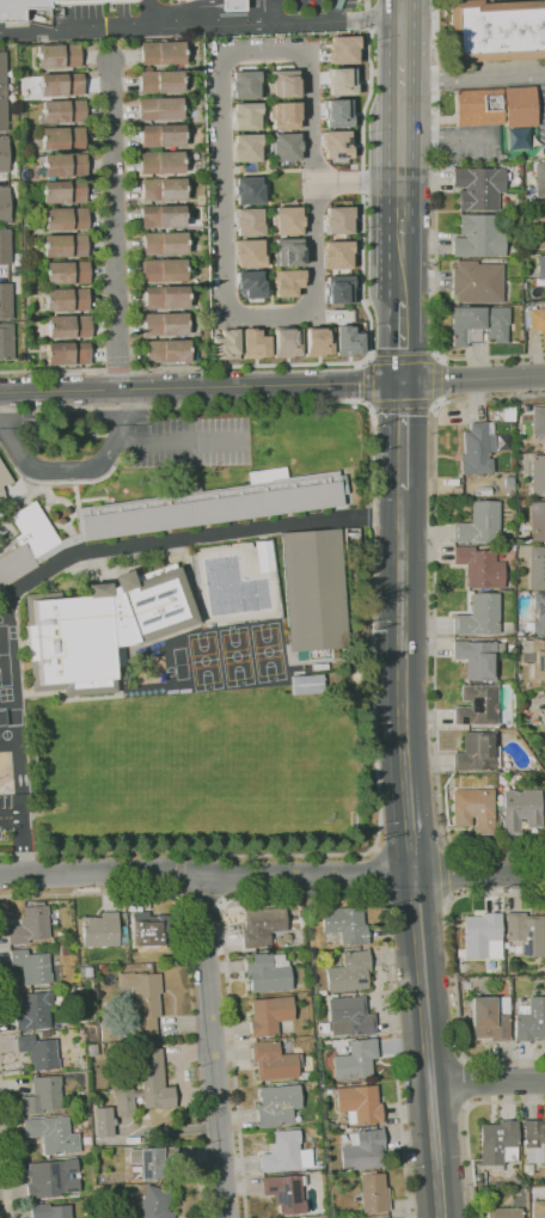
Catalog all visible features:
building: (231, 5)
road: (208, 6)
building: (68, 10)
road: (336, 10)
road: (272, 11)
road: (148, 14)
road: (201, 25)
building: (498, 35)
building: (342, 49)
building: (160, 53)
building: (56, 55)
road: (473, 76)
building: (159, 81)
building: (341, 81)
building: (60, 84)
building: (244, 84)
building: (283, 84)
road: (435, 85)
building: (1, 92)
building: (483, 103)
building: (158, 108)
building: (61, 111)
building: (337, 112)
building: (282, 115)
building: (244, 116)
building: (160, 135)
road: (220, 135)
building: (61, 137)
building: (336, 143)
road: (402, 143)
building: (284, 146)
building: (245, 147)
building: (2, 154)
building: (160, 161)
building: (63, 164)
building: (539, 180)
building: (479, 188)
building: (161, 189)
building: (246, 190)
building: (62, 191)
building: (4, 206)
building: (161, 215)
building: (63, 218)
building: (286, 220)
building: (337, 220)
building: (247, 221)
road: (117, 227)
building: (539, 227)
building: (479, 235)
building: (163, 243)
building: (63, 245)
building: (4, 246)
building: (287, 251)
building: (249, 253)
building: (336, 255)
building: (540, 267)
building: (161, 269)
building: (66, 271)
road: (0, 273)
building: (287, 282)
building: (477, 282)
building: (250, 283)
building: (337, 289)
building: (164, 296)
building: (65, 299)
building: (5, 300)
road: (435, 318)
building: (534, 320)
building: (163, 324)
building: (479, 324)
building: (67, 325)
road: (403, 336)
building: (5, 341)
building: (317, 341)
building: (347, 341)
building: (284, 342)
building: (253, 343)
building: (223, 344)
building: (166, 350)
building: (67, 353)
road: (367, 359)
road: (365, 360)
road: (473, 379)
traffic signals: (403, 385)
road: (201, 391)
road: (238, 403)
building: (539, 424)
building: (491, 429)
road: (403, 436)
parking lot: (188, 439)
road: (179, 441)
building: (477, 448)
road: (72, 467)
building: (538, 475)
building: (4, 481)
building: (509, 482)
building: (483, 490)
building: (171, 514)
building: (538, 521)
building: (479, 522)
road: (186, 537)
building: (263, 556)
building: (537, 567)
building: (480, 568)
building: (219, 569)
building: (316, 589)
building: (539, 612)
building: (479, 614)
road: (434, 622)
building: (100, 628)
park: (267, 651)
building: (117, 655)
park: (4, 656)
park: (235, 656)
building: (534, 656)
building: (478, 657)
park: (203, 661)
road: (402, 681)
building: (306, 684)
building: (478, 705)
building: (540, 708)
building: (477, 752)
park: (257, 758)
building: (472, 809)
building: (521, 809)
parking lot: (16, 822)
road: (22, 836)
road: (355, 855)
road: (182, 871)
road: (378, 871)
road: (478, 871)
road: (206, 873)
road: (446, 874)
road: (306, 896)
building: (295, 917)
building: (345, 924)
building: (30, 925)
building: (262, 926)
building: (154, 929)
building: (104, 931)
building: (526, 932)
building: (482, 936)
building: (65, 949)
building: (512, 949)
road: (188, 965)
building: (32, 966)
building: (86, 972)
building: (268, 972)
building: (349, 972)
road: (454, 973)
building: (323, 992)
building: (127, 997)
building: (143, 999)
building: (33, 1010)
building: (269, 1015)
building: (350, 1016)
building: (489, 1018)
building: (531, 1020)
building: (110, 1030)
building: (44, 1033)
building: (153, 1041)
building: (287, 1041)
road: (427, 1045)
road: (214, 1046)
building: (92, 1049)
building: (39, 1052)
building: (327, 1052)
building: (356, 1059)
building: (272, 1061)
road: (488, 1082)
road: (458, 1083)
building: (148, 1085)
building: (329, 1091)
building: (43, 1095)
building: (277, 1104)
building: (360, 1104)
building: (102, 1121)
road: (466, 1124)
building: (53, 1134)
building: (534, 1140)
building: (498, 1144)
road: (5, 1145)
building: (363, 1150)
building: (284, 1152)
building: (153, 1162)
building: (317, 1174)
building: (51, 1179)
building: (515, 1179)
building: (478, 1180)
building: (500, 1183)
building: (102, 1187)
building: (374, 1192)
building: (286, 1193)
building: (155, 1202)
building: (538, 1208)
building: (50, 1211)
building: (504, 1212)
building: (121, 1217)
building: (386, 1217)

